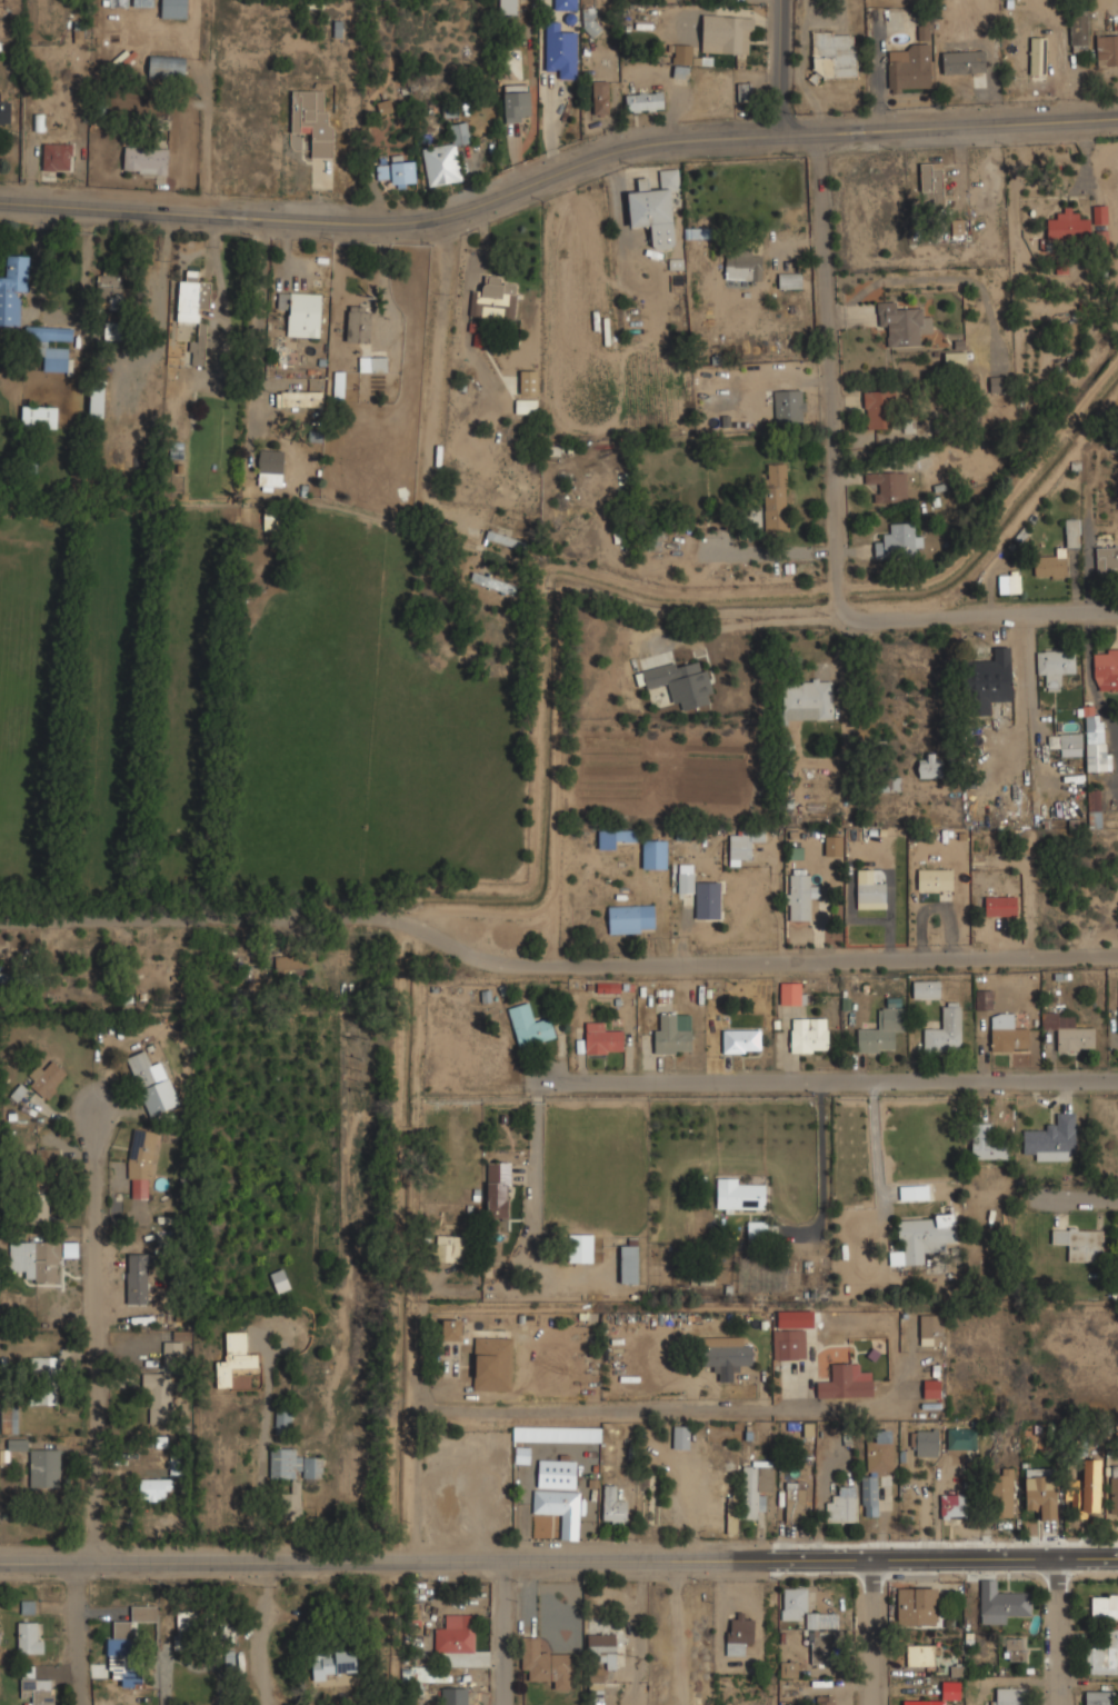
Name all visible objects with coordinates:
building: (142, 3)
building: (566, 4)
building: (508, 7)
building: (174, 9)
building: (1079, 31)
building: (922, 32)
building: (727, 33)
building: (1107, 49)
building: (560, 51)
building: (682, 53)
building: (833, 54)
building: (1038, 56)
building: (167, 67)
building: (910, 67)
road: (783, 68)
building: (968, 81)
building: (745, 91)
building: (601, 97)
building: (646, 101)
building: (518, 102)
building: (385, 107)
building: (6, 112)
building: (312, 118)
road: (203, 144)
building: (57, 156)
building: (446, 158)
building: (146, 159)
building: (399, 170)
road: (557, 178)
building: (931, 180)
building: (655, 208)
building: (957, 227)
building: (1069, 227)
building: (1064, 266)
building: (743, 268)
road: (217, 275)
building: (789, 280)
building: (12, 289)
building: (109, 291)
building: (191, 297)
building: (492, 299)
road: (262, 310)
building: (301, 313)
building: (358, 323)
building: (904, 323)
building: (1074, 335)
building: (47, 350)
building: (955, 358)
building: (372, 363)
road: (438, 373)
road: (831, 379)
building: (528, 382)
building: (998, 385)
building: (338, 386)
building: (299, 399)
building: (96, 400)
building: (526, 406)
building: (788, 407)
building: (878, 410)
building: (38, 417)
building: (270, 467)
building: (889, 485)
building: (775, 498)
building: (1071, 532)
building: (652, 540)
building: (899, 541)
building: (1107, 558)
building: (1050, 565)
building: (1010, 582)
building: (492, 584)
road: (979, 614)
building: (1056, 665)
building: (1106, 669)
building: (991, 677)
building: (682, 682)
building: (808, 700)
building: (1097, 742)
building: (1068, 744)
building: (930, 765)
building: (1095, 808)
building: (613, 837)
building: (833, 845)
building: (741, 846)
building: (655, 854)
building: (935, 879)
building: (869, 891)
building: (702, 895)
building: (799, 897)
building: (631, 919)
road: (553, 965)
building: (292, 966)
building: (926, 989)
building: (791, 994)
building: (985, 1000)
building: (530, 1026)
building: (946, 1029)
building: (881, 1031)
building: (1069, 1033)
building: (673, 1034)
building: (1007, 1034)
building: (809, 1036)
building: (602, 1039)
building: (742, 1041)
building: (46, 1077)
road: (820, 1078)
building: (151, 1083)
building: (1051, 1138)
building: (987, 1143)
building: (47, 1156)
building: (142, 1161)
road: (823, 1167)
building: (499, 1189)
building: (915, 1193)
road: (532, 1195)
road: (1076, 1195)
building: (739, 1196)
building: (38, 1203)
building: (757, 1229)
building: (924, 1238)
building: (1080, 1243)
building: (451, 1248)
building: (580, 1248)
building: (69, 1249)
building: (34, 1259)
building: (630, 1264)
building: (138, 1277)
building: (280, 1282)
building: (451, 1329)
building: (931, 1329)
road: (100, 1330)
building: (180, 1336)
building: (789, 1344)
building: (171, 1352)
building: (726, 1358)
building: (234, 1359)
building: (493, 1364)
building: (43, 1380)
building: (846, 1383)
building: (931, 1389)
building: (157, 1398)
road: (268, 1410)
road: (508, 1410)
building: (9, 1419)
building: (283, 1419)
building: (681, 1437)
building: (960, 1438)
building: (549, 1439)
building: (928, 1443)
building: (292, 1464)
building: (44, 1467)
building: (876, 1470)
building: (557, 1474)
building: (1091, 1485)
building: (153, 1488)
building: (1115, 1489)
building: (1002, 1494)
building: (747, 1496)
building: (1075, 1497)
building: (1041, 1502)
building: (796, 1503)
building: (292, 1504)
building: (842, 1504)
building: (613, 1506)
building: (951, 1507)
building: (560, 1509)
road: (559, 1561)
building: (1001, 1603)
building: (918, 1606)
building: (1105, 1606)
building: (805, 1608)
building: (191, 1631)
building: (227, 1631)
road: (1057, 1631)
road: (80, 1632)
building: (128, 1632)
road: (875, 1632)
road: (266, 1633)
road: (505, 1633)
building: (456, 1634)
building: (739, 1635)
building: (30, 1637)
building: (607, 1641)
building: (821, 1647)
building: (1016, 1649)
building: (920, 1655)
building: (1104, 1655)
building: (333, 1663)
building: (546, 1664)
building: (791, 1667)
building: (430, 1674)
building: (593, 1679)
building: (38, 1691)
building: (458, 1696)
building: (1011, 1696)
building: (1101, 1697)
building: (826, 1701)
building: (926, 1703)

